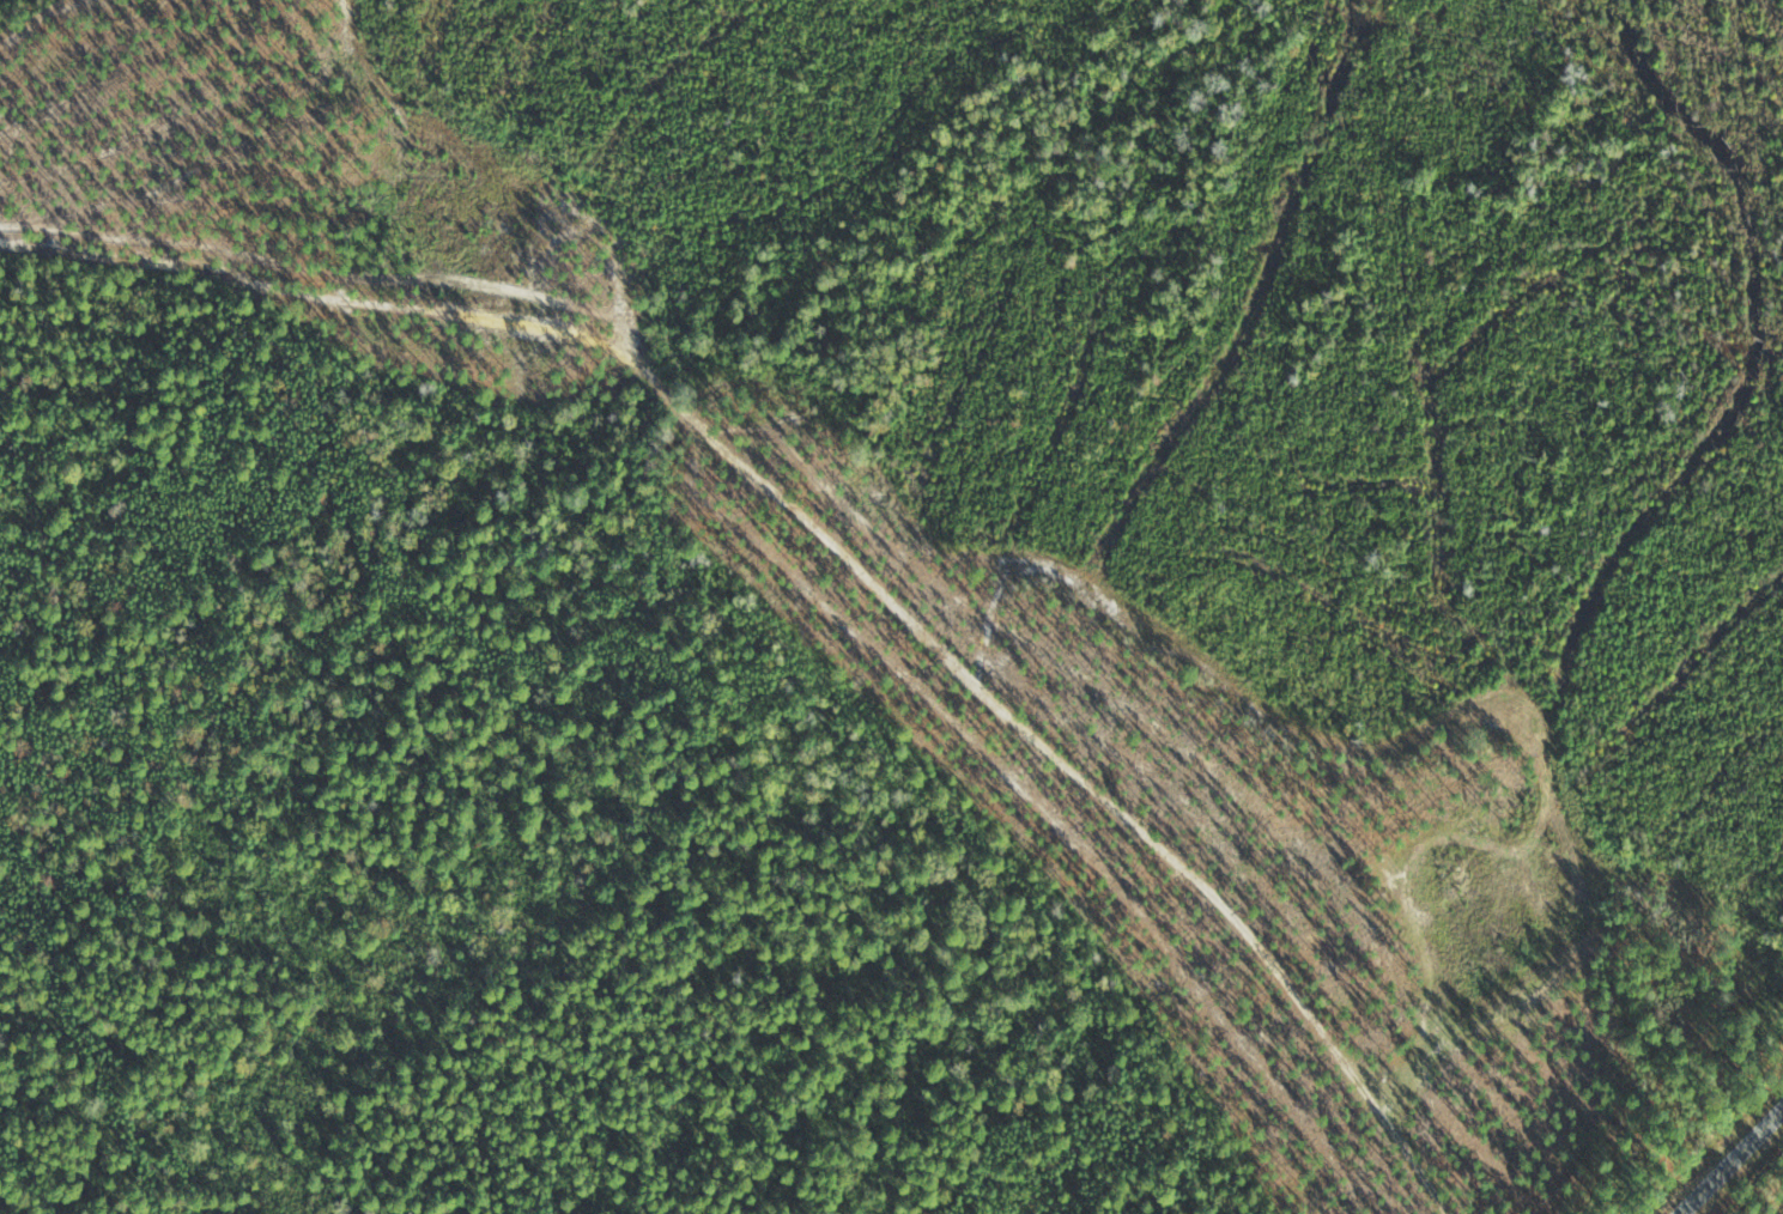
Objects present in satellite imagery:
road: (825, 552)
road: (1734, 1161)

